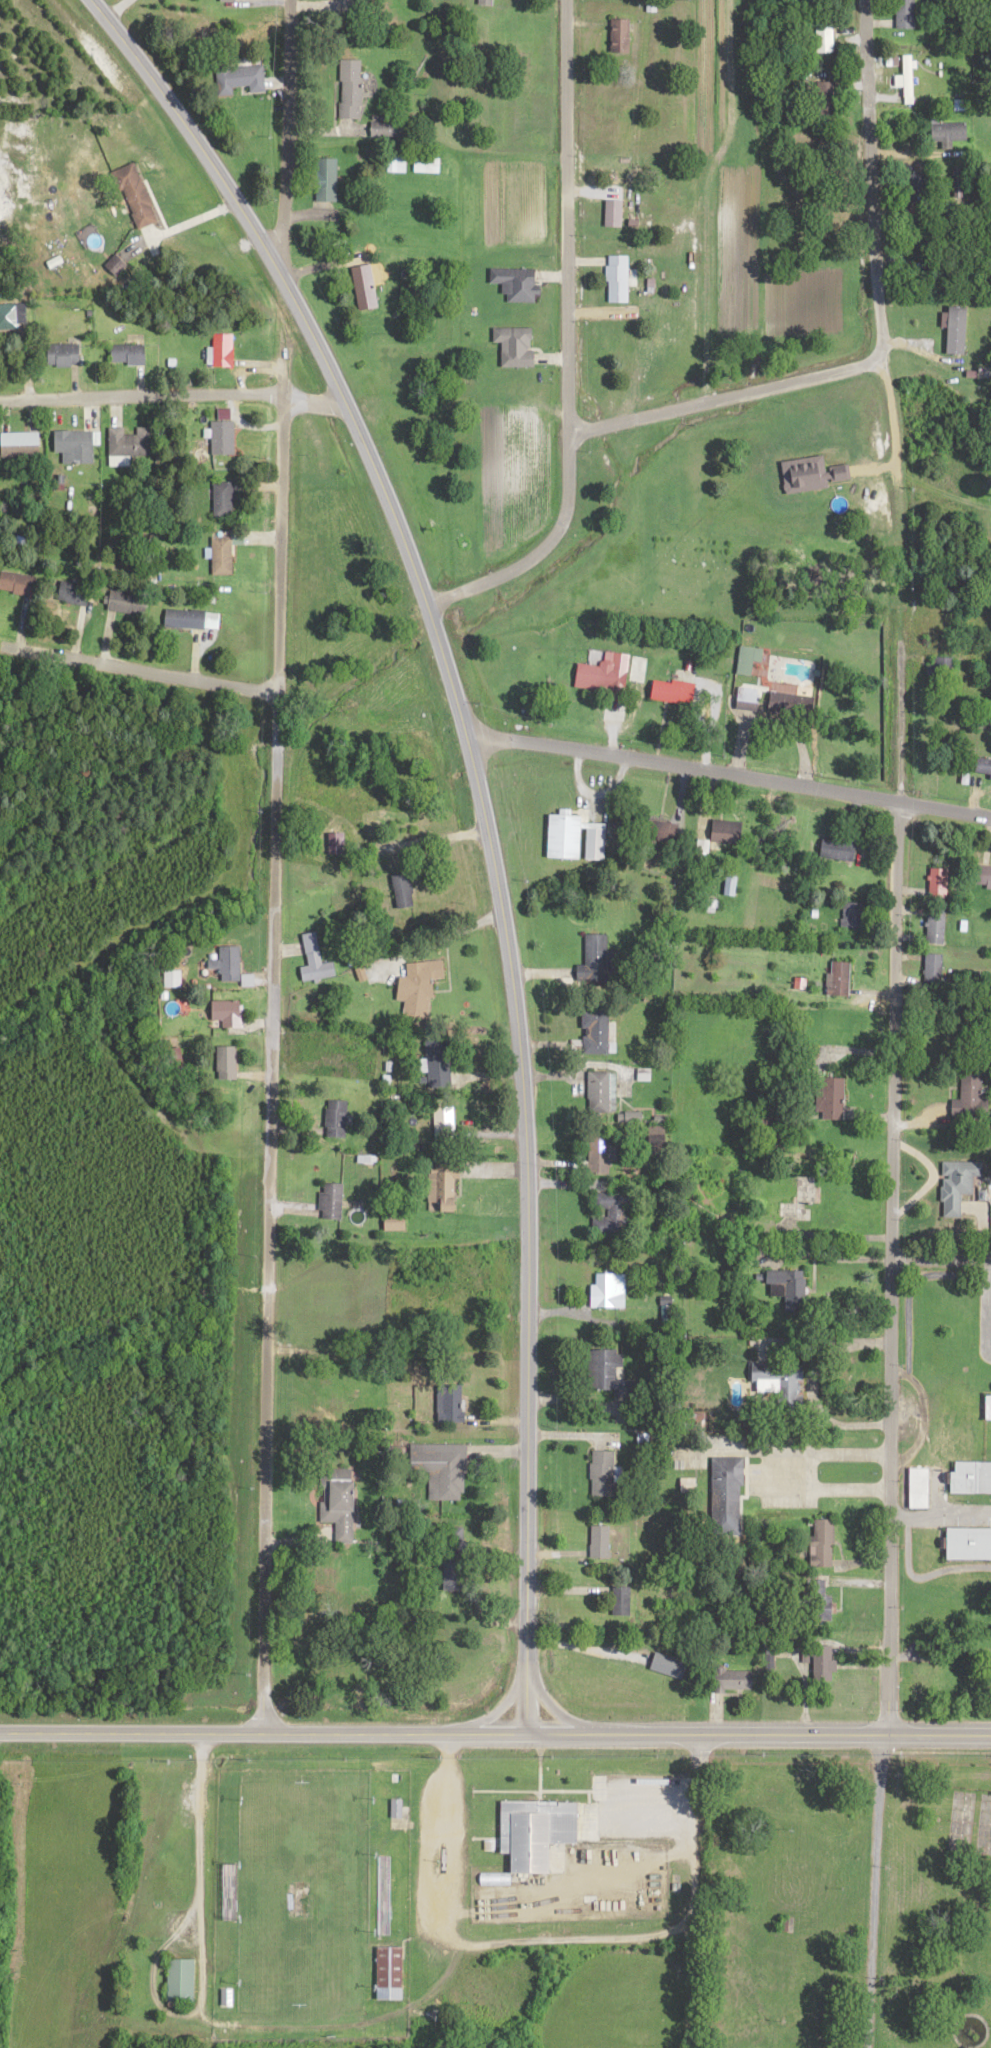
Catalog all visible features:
building: (228, 1)
building: (763, 1)
building: (487, 4)
building: (906, 17)
building: (621, 39)
building: (827, 46)
building: (907, 78)
building: (243, 81)
building: (351, 91)
building: (827, 102)
building: (398, 132)
building: (949, 133)
road: (285, 134)
building: (397, 167)
building: (427, 168)
building: (957, 181)
building: (327, 182)
building: (918, 192)
building: (137, 199)
building: (614, 216)
building: (618, 282)
building: (516, 287)
building: (365, 291)
building: (13, 320)
road: (877, 337)
road: (568, 344)
building: (516, 349)
building: (224, 354)
building: (129, 357)
building: (64, 358)
road: (141, 401)
road: (313, 405)
building: (223, 441)
building: (130, 445)
building: (21, 448)
building: (76, 449)
building: (812, 477)
building: (223, 502)
road: (279, 546)
building: (222, 558)
building: (18, 586)
building: (75, 596)
building: (127, 605)
building: (186, 621)
building: (749, 662)
building: (941, 669)
road: (138, 672)
building: (602, 679)
building: (673, 694)
building: (748, 702)
building: (784, 706)
building: (983, 768)
road: (729, 780)
road: (477, 785)
building: (661, 834)
building: (727, 835)
building: (565, 839)
building: (595, 845)
building: (839, 853)
building: (984, 879)
building: (939, 885)
building: (731, 888)
building: (404, 894)
building: (852, 918)
building: (936, 929)
building: (597, 959)
building: (315, 964)
building: (230, 967)
building: (933, 971)
building: (840, 982)
building: (419, 991)
building: (230, 1017)
building: (597, 1035)
building: (438, 1064)
building: (226, 1066)
building: (601, 1096)
building: (970, 1099)
building: (835, 1101)
building: (337, 1117)
building: (446, 1126)
building: (599, 1156)
building: (444, 1188)
building: (959, 1188)
road: (892, 1199)
building: (804, 1202)
building: (331, 1203)
road: (269, 1213)
building: (610, 1216)
road: (941, 1261)
building: (790, 1291)
building: (609, 1293)
building: (608, 1378)
building: (781, 1383)
building: (989, 1403)
building: (452, 1406)
building: (442, 1467)
building: (980, 1472)
building: (603, 1477)
building: (922, 1482)
building: (978, 1489)
building: (727, 1495)
building: (341, 1505)
building: (601, 1545)
building: (824, 1546)
building: (455, 1575)
building: (623, 1604)
building: (824, 1661)
building: (671, 1668)
building: (735, 1684)
building: (927, 1685)
road: (527, 1701)
road: (498, 1711)
road: (558, 1714)
road: (264, 1731)
road: (569, 1736)
road: (800, 1737)
building: (402, 1813)
building: (538, 1835)
road: (201, 1872)
road: (692, 1892)
road: (876, 1893)
park: (300, 1896)
park: (849, 1902)
road: (465, 1947)
building: (391, 1977)
building: (182, 1983)

